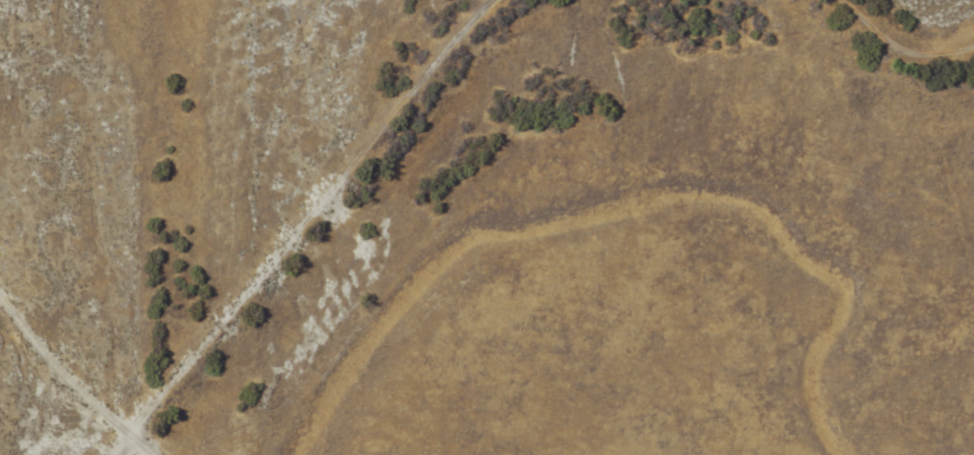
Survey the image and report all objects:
road: (99, 240)

